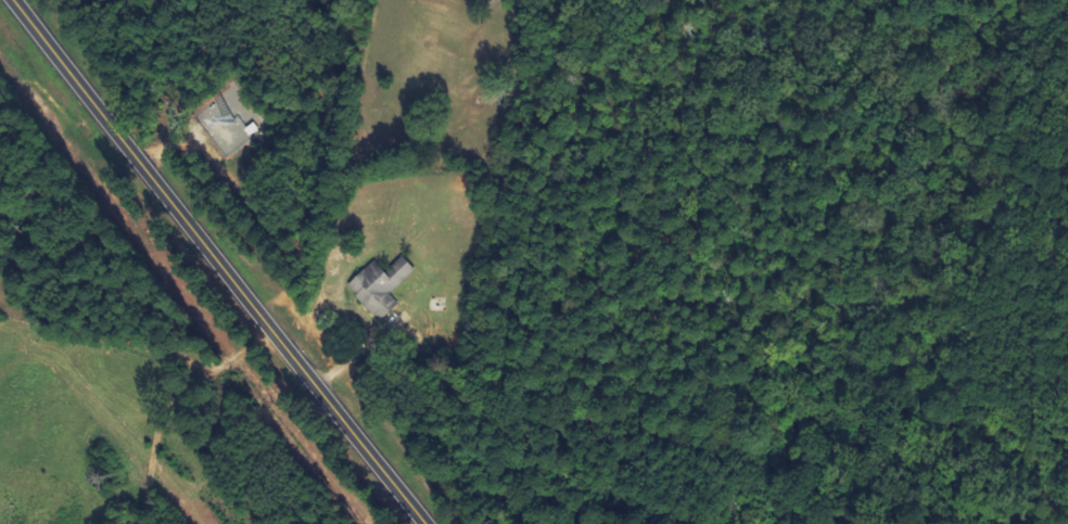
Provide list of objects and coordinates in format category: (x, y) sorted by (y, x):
road: (217, 261)
road: (173, 406)

